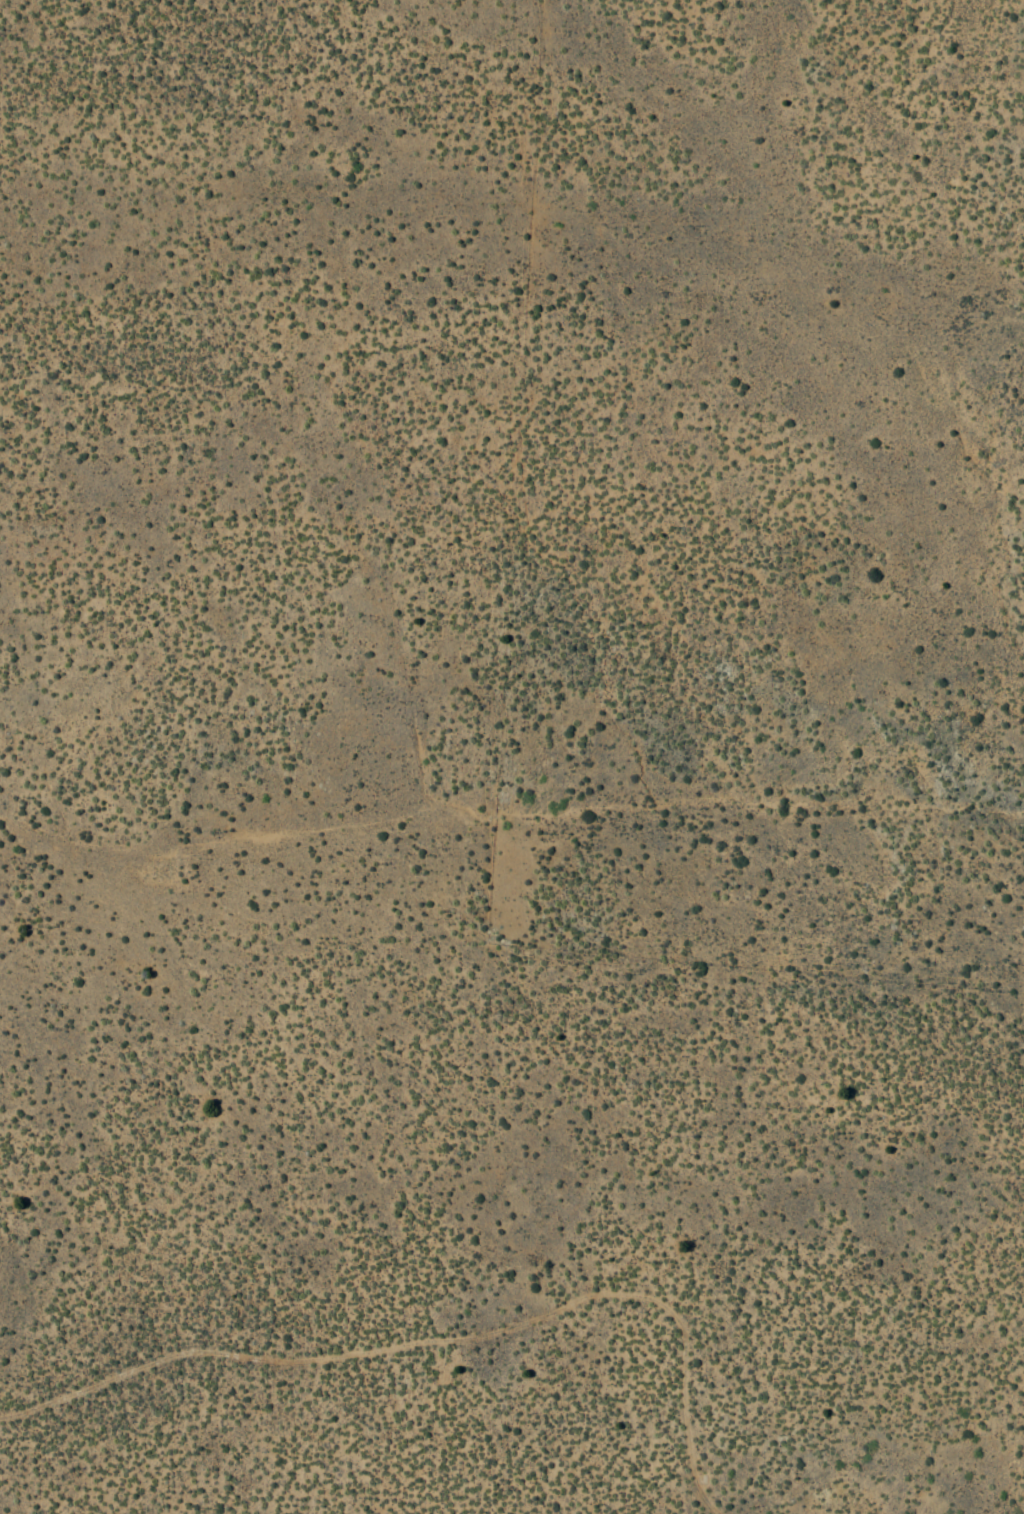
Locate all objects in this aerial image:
road: (439, 1345)

